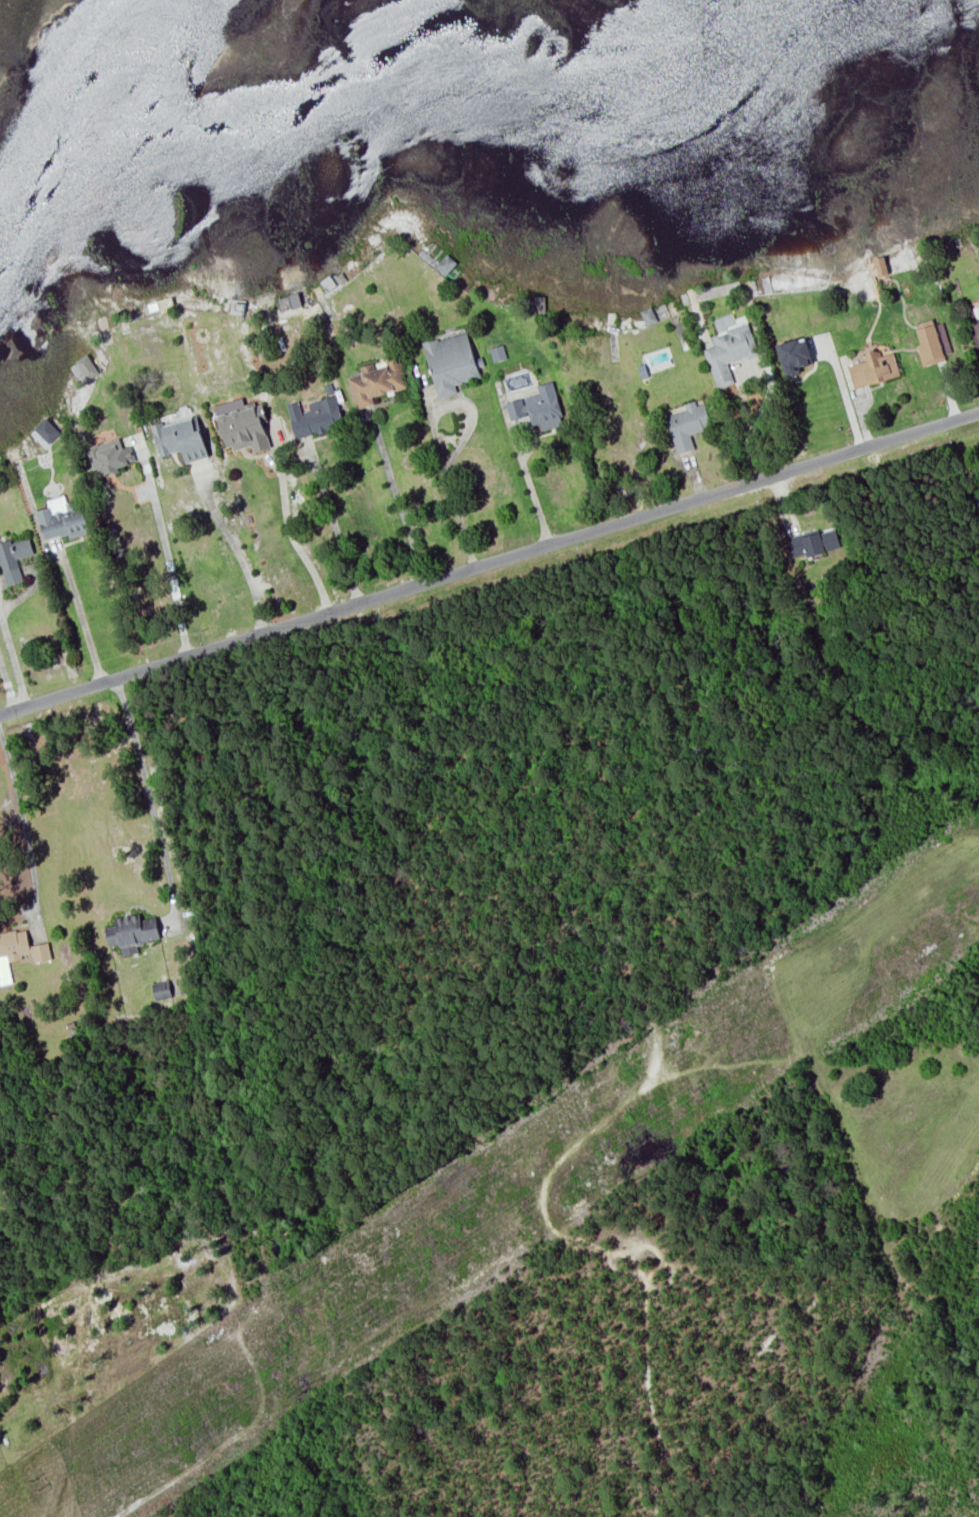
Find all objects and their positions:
building: (288, 301)
building: (648, 315)
building: (974, 326)
building: (932, 343)
building: (729, 346)
building: (497, 352)
building: (794, 355)
building: (450, 362)
building: (873, 368)
building: (376, 381)
road: (844, 396)
building: (538, 406)
building: (315, 416)
building: (687, 424)
building: (245, 427)
building: (180, 438)
building: (110, 456)
road: (532, 497)
building: (977, 499)
road: (455, 501)
road: (401, 508)
building: (62, 518)
road: (289, 533)
building: (814, 542)
building: (13, 558)
road: (243, 561)
road: (489, 563)
road: (171, 572)
road: (81, 614)
road: (14, 656)
road: (7, 685)
road: (150, 799)
road: (25, 830)
building: (132, 932)
building: (18, 951)
building: (165, 988)
power tower: (672, 1055)
power tower: (697, 1091)
power tower: (369, 1260)
power tower: (362, 1316)
power tower: (34, 1484)

